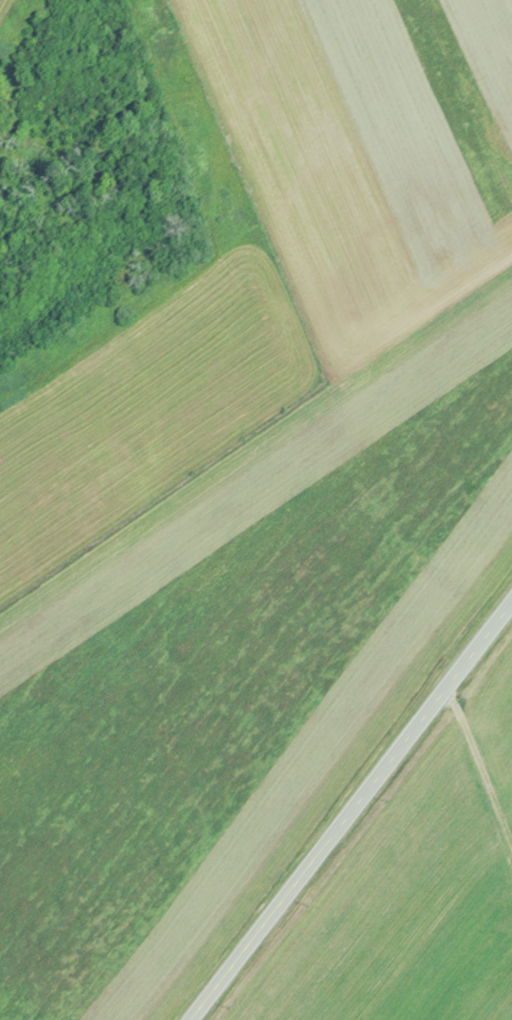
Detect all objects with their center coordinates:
road: (349, 808)

